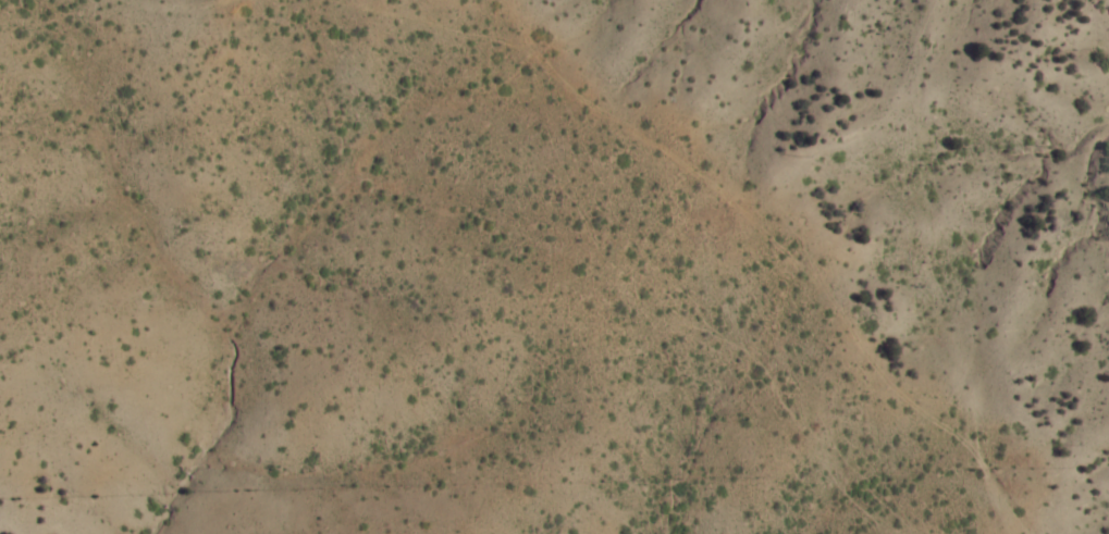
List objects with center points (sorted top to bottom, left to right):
road: (385, 162)
road: (787, 381)

